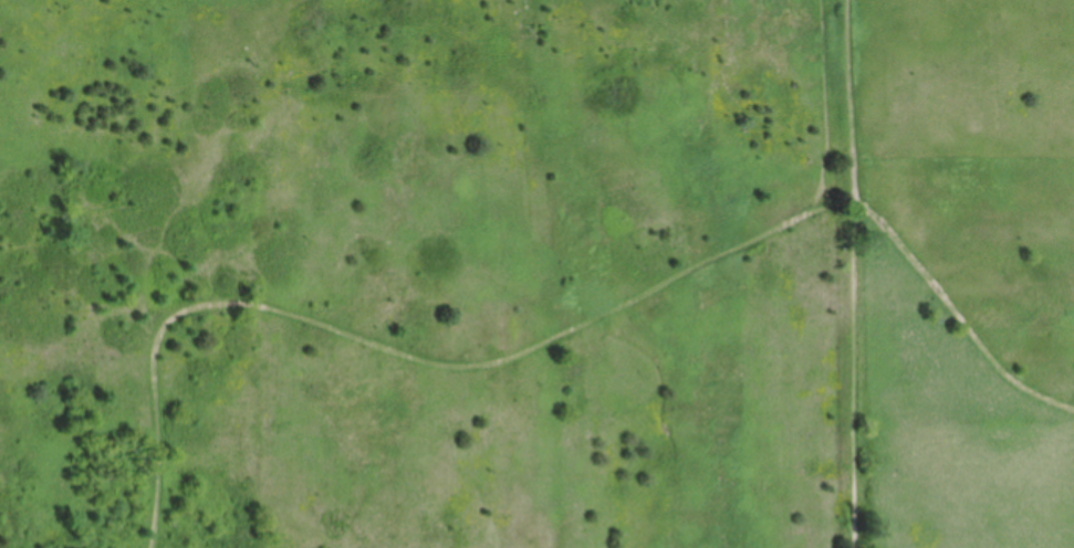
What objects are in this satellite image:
road: (846, 98)
park: (536, 274)
road: (953, 313)
road: (410, 352)
road: (853, 372)

